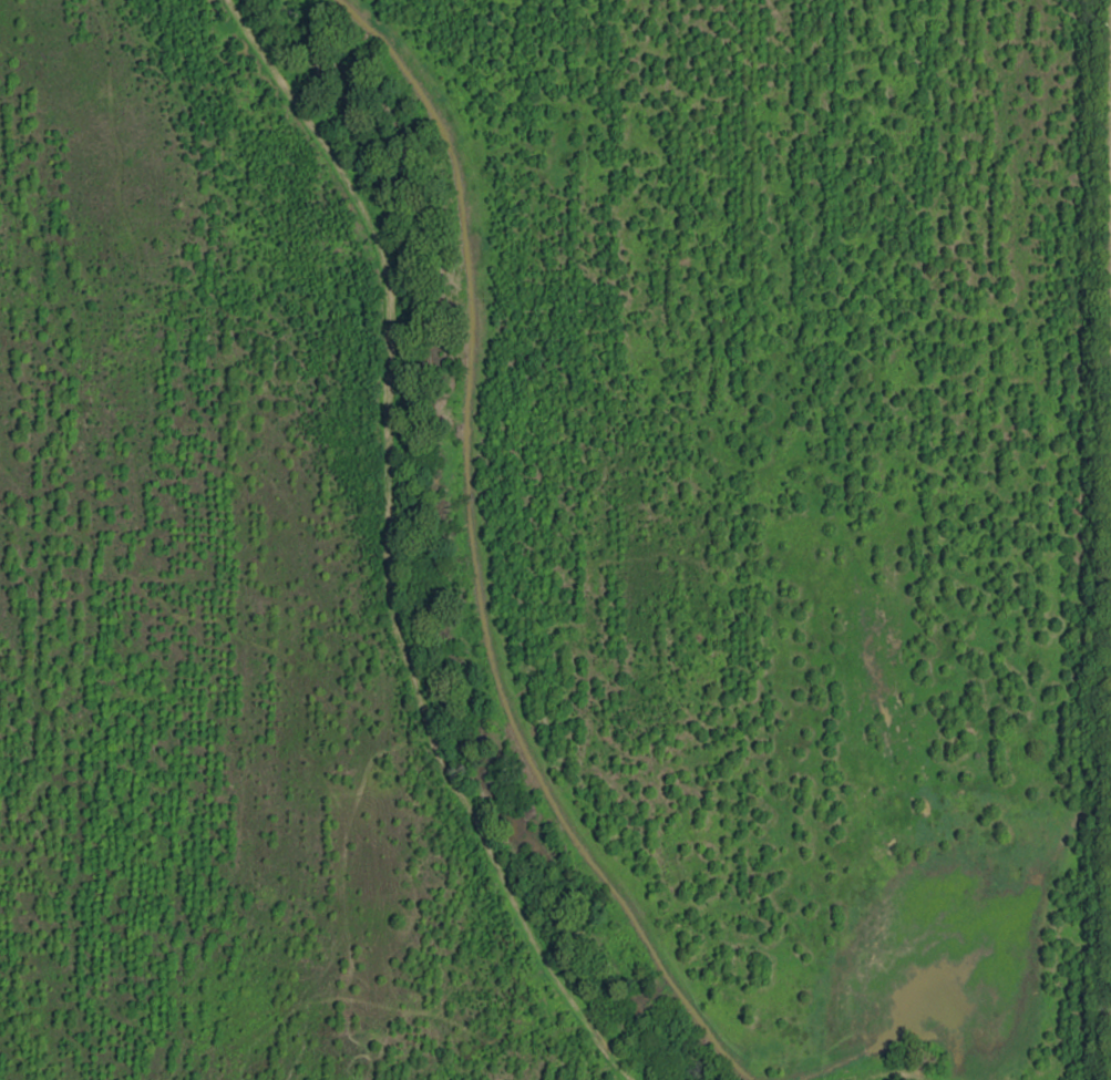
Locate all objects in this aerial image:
road: (1108, 226)

